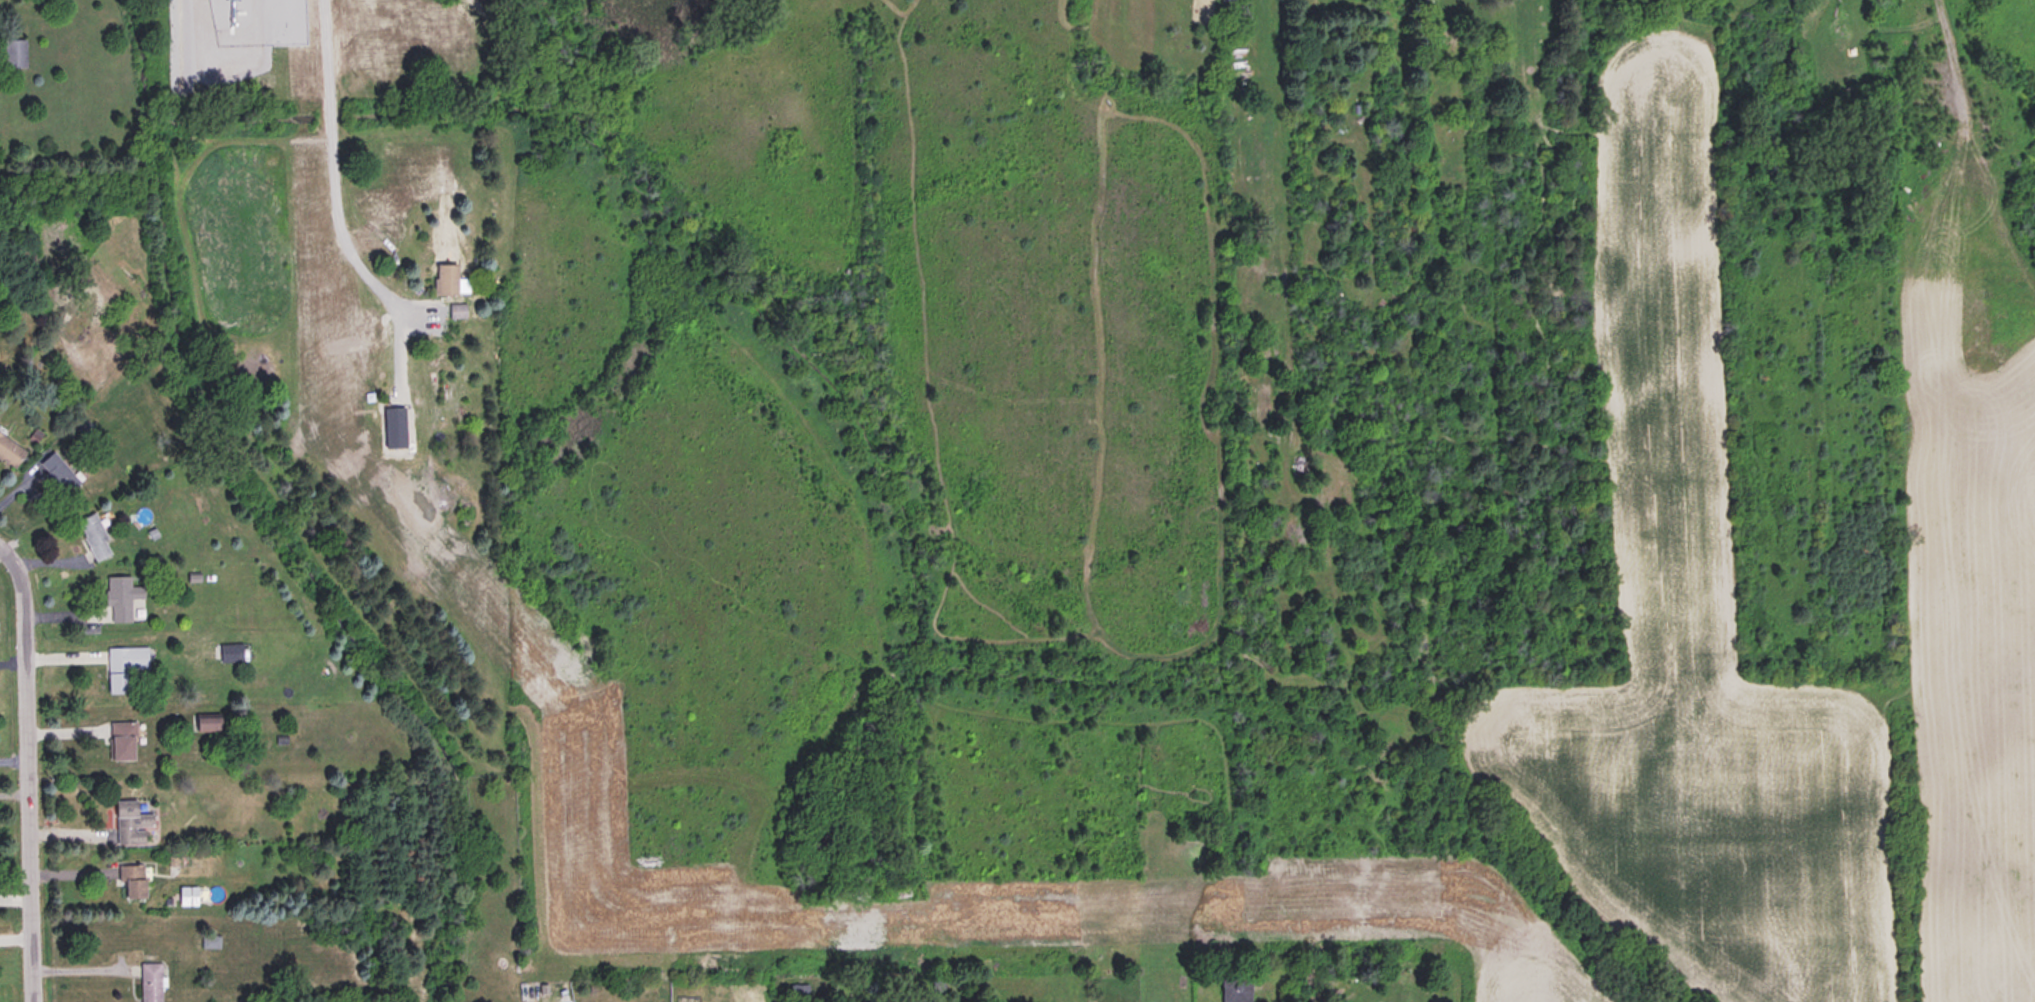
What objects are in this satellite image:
building: (1229, 0)
building: (14, 54)
road: (1975, 138)
road: (333, 187)
building: (445, 279)
building: (455, 311)
building: (394, 428)
building: (9, 453)
building: (57, 473)
building: (94, 538)
building: (120, 598)
building: (229, 653)
building: (118, 671)
building: (208, 725)
building: (122, 741)
road: (33, 767)
building: (131, 824)
building: (133, 882)
building: (187, 896)
building: (150, 983)
building: (938, 985)
building: (1236, 989)
building: (800, 993)

